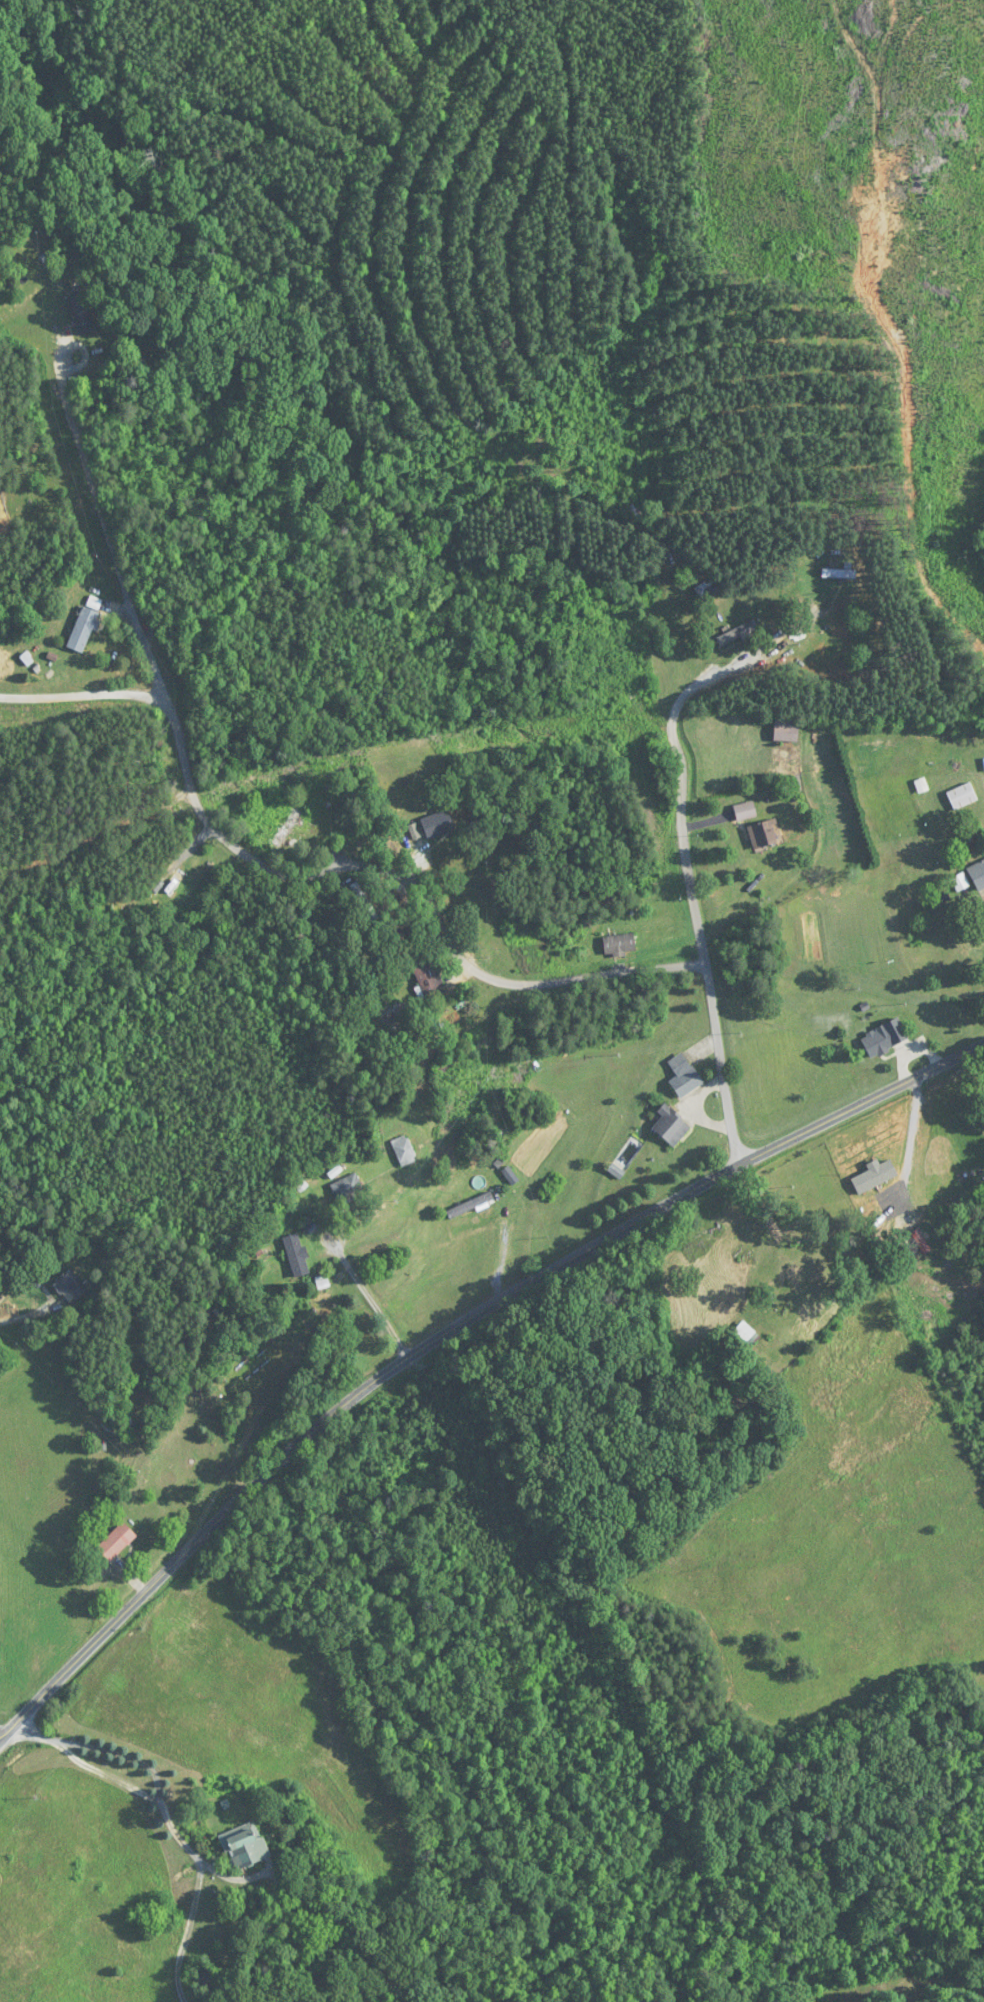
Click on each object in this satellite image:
building: (80, 314)
road: (98, 477)
building: (839, 574)
building: (82, 630)
building: (736, 633)
road: (718, 677)
road: (83, 691)
building: (785, 729)
building: (792, 784)
building: (961, 796)
building: (744, 811)
building: (278, 820)
building: (437, 824)
road: (229, 835)
building: (762, 835)
building: (977, 874)
building: (171, 886)
building: (619, 945)
road: (707, 958)
building: (427, 978)
road: (502, 979)
building: (877, 1043)
building: (683, 1076)
building: (670, 1127)
building: (403, 1151)
building: (347, 1188)
building: (469, 1211)
building: (916, 1241)
building: (296, 1255)
building: (802, 1277)
building: (69, 1285)
road: (49, 1293)
road: (372, 1302)
road: (449, 1330)
building: (116, 1542)
road: (145, 1762)
building: (244, 1845)
road: (189, 1931)
building: (208, 1981)

